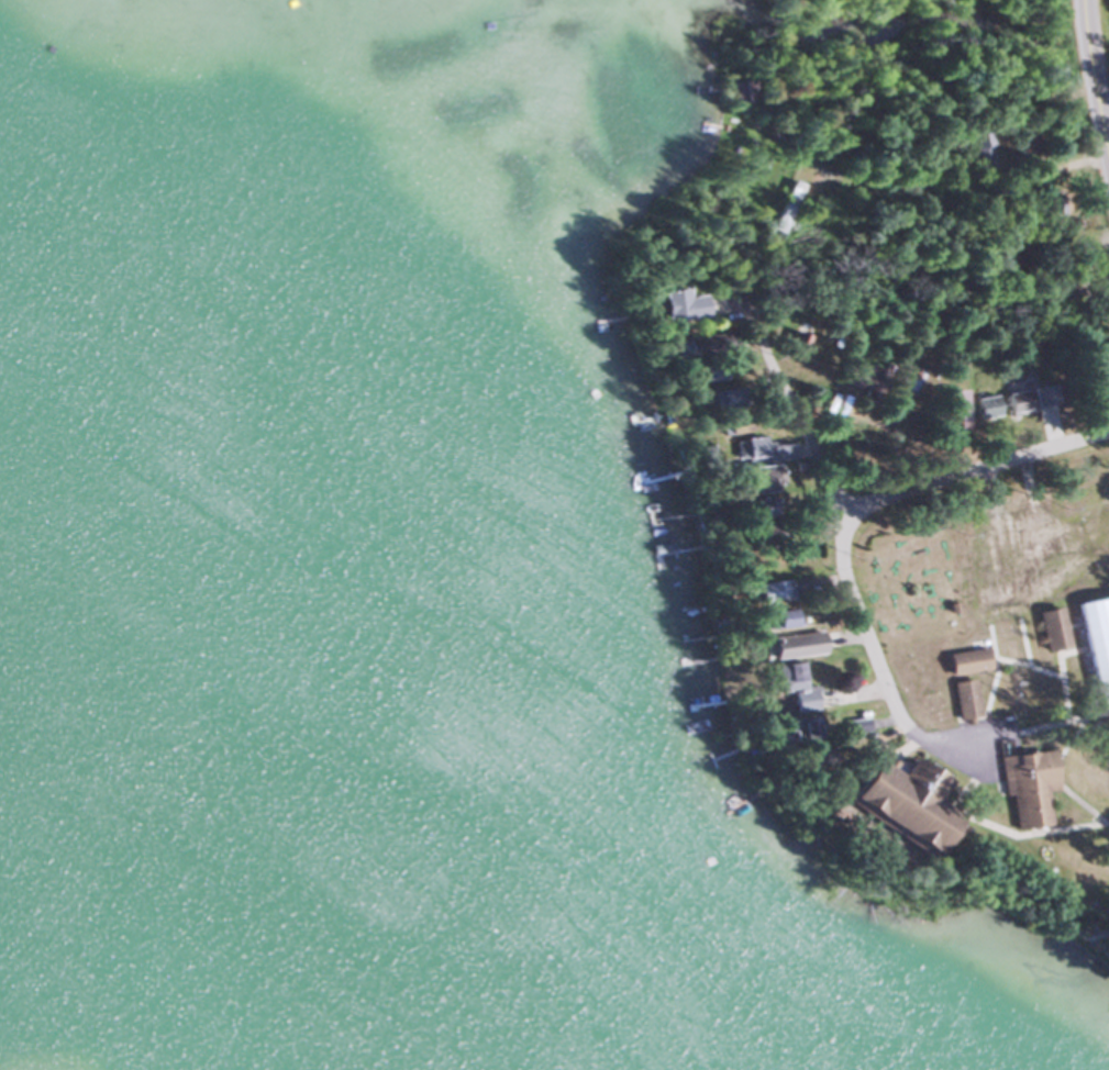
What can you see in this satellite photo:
river: (1074, 30)
road: (1089, 87)
building: (740, 92)
road: (896, 122)
building: (1024, 141)
building: (978, 148)
building: (786, 210)
road: (987, 225)
building: (678, 308)
building: (705, 357)
road: (825, 378)
building: (860, 378)
building: (1041, 397)
building: (1013, 402)
building: (984, 406)
building: (739, 426)
road: (975, 461)
building: (755, 480)
building: (752, 510)
building: (768, 590)
road: (847, 606)
building: (772, 618)
building: (1049, 628)
building: (1095, 643)
building: (790, 645)
building: (963, 660)
building: (790, 686)
building: (961, 699)
building: (796, 727)
road: (992, 732)
building: (812, 758)
building: (1024, 787)
building: (899, 801)

